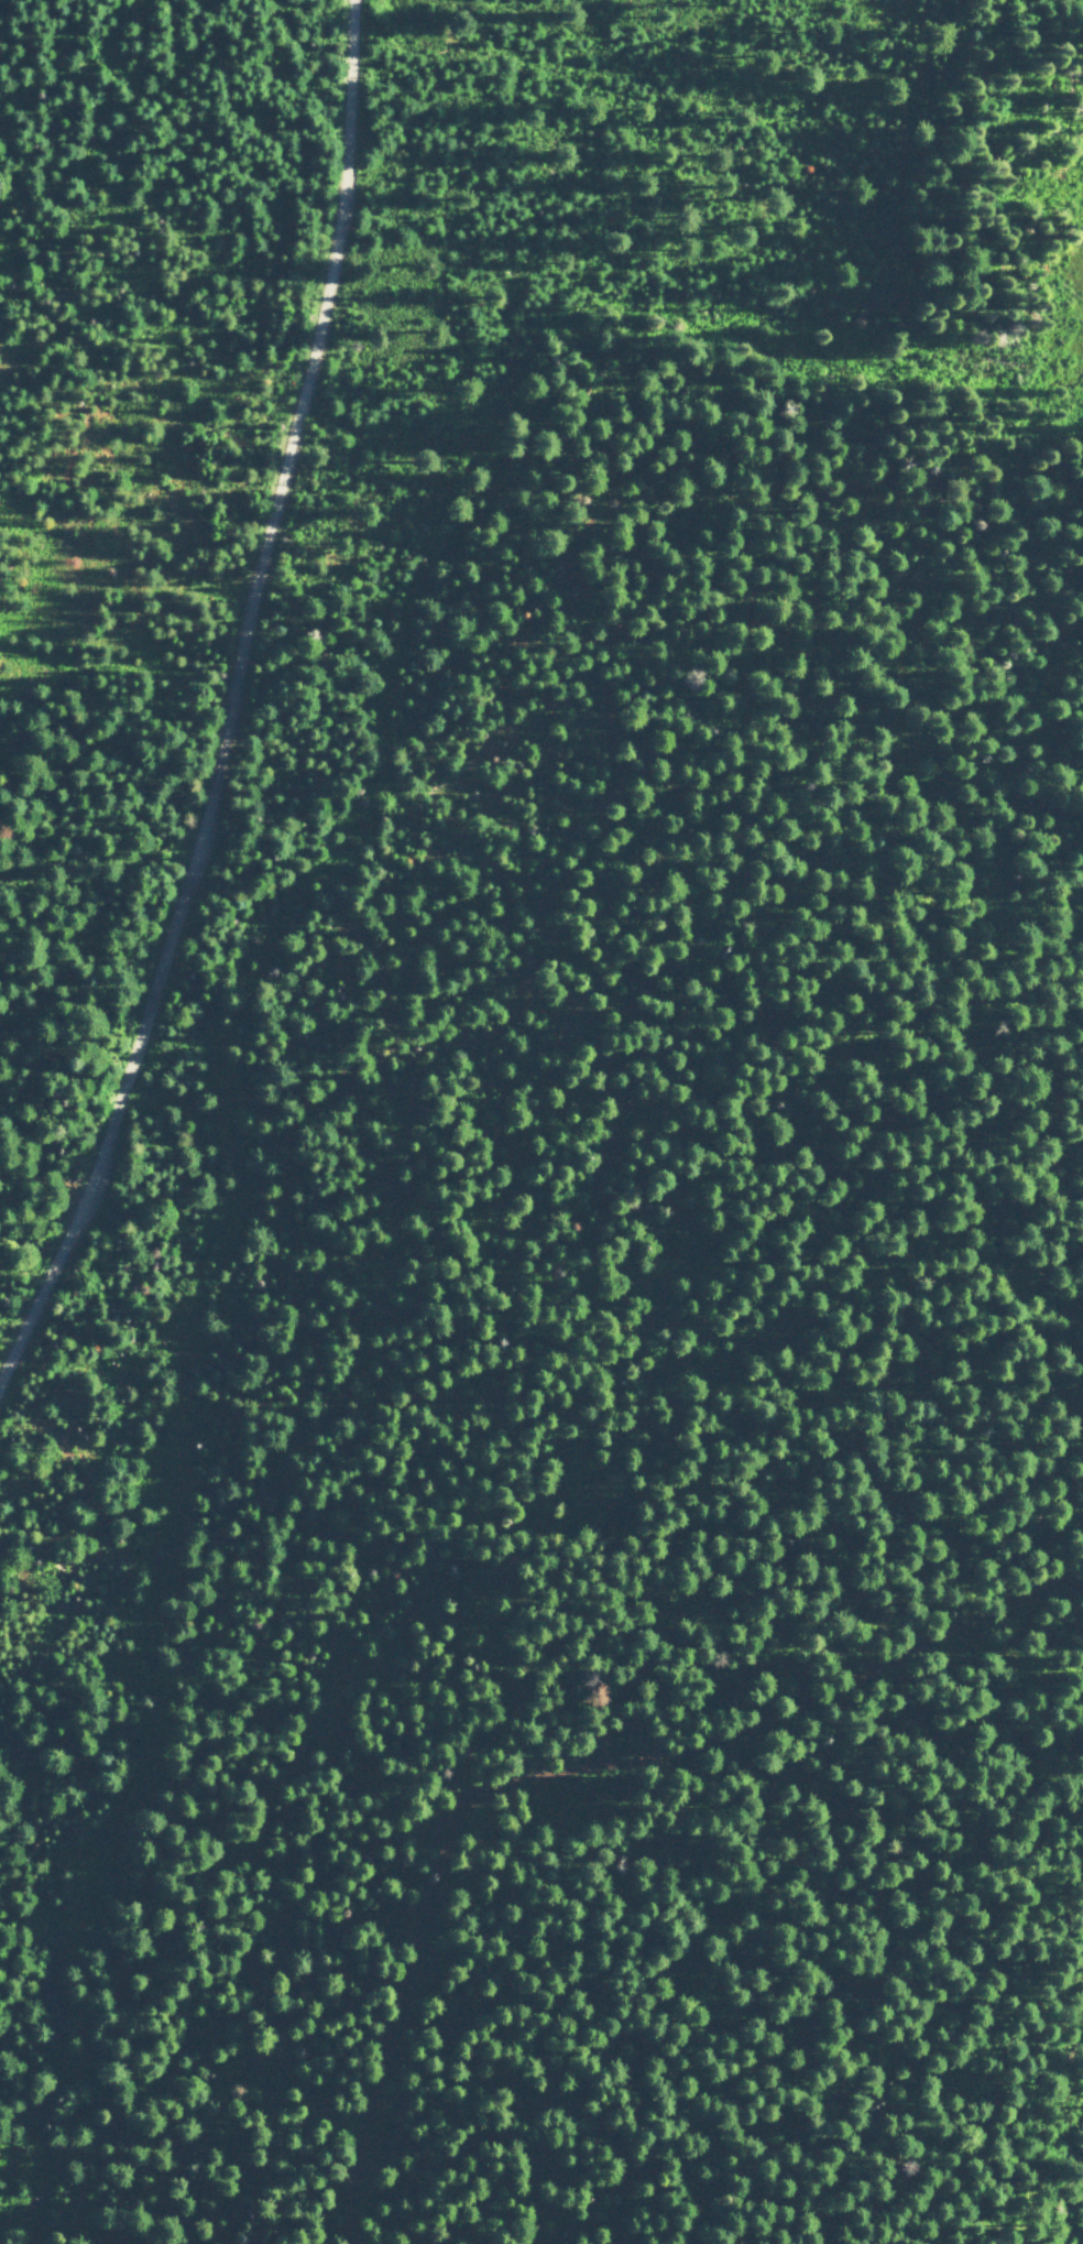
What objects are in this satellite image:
road: (225, 699)

